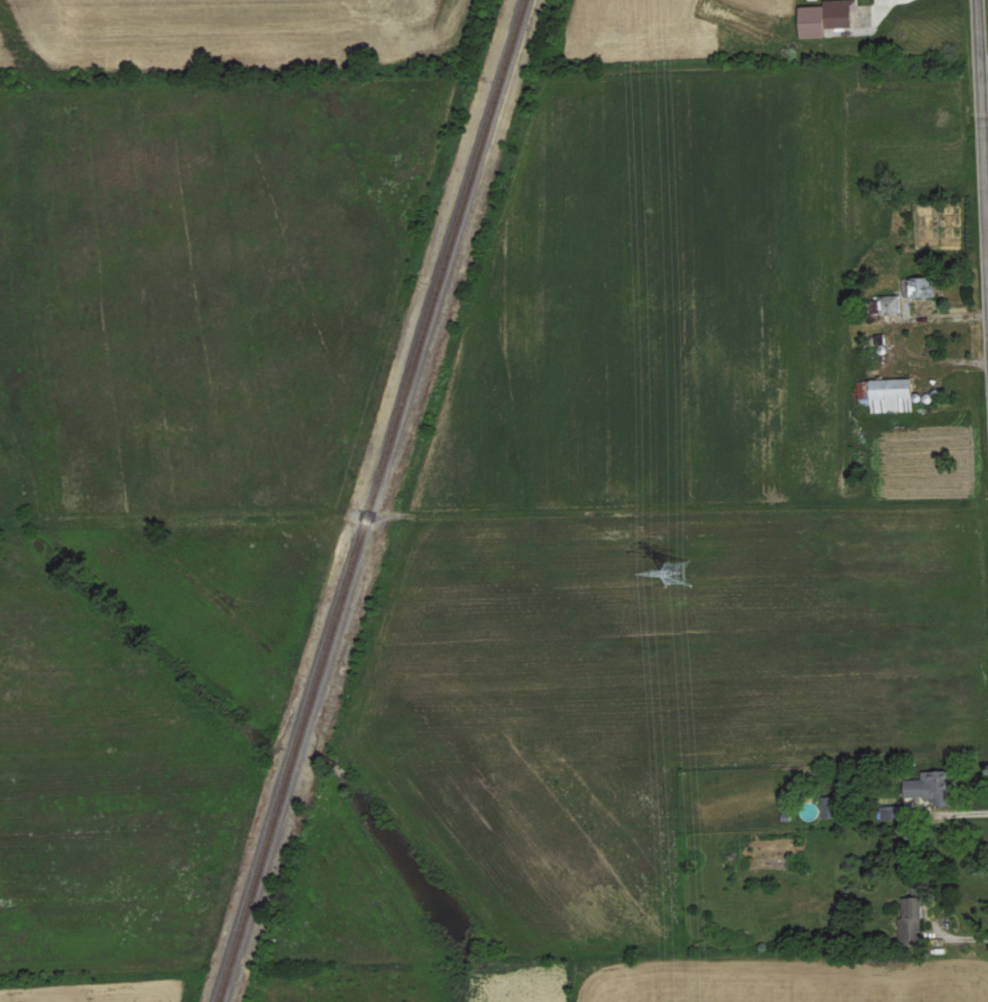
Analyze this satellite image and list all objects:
building: (828, 17)
road: (985, 65)
road: (984, 95)
building: (920, 286)
building: (891, 304)
building: (888, 394)
railway: (358, 501)
power tower: (676, 569)
building: (932, 785)
building: (832, 805)
building: (894, 811)
building: (914, 914)

